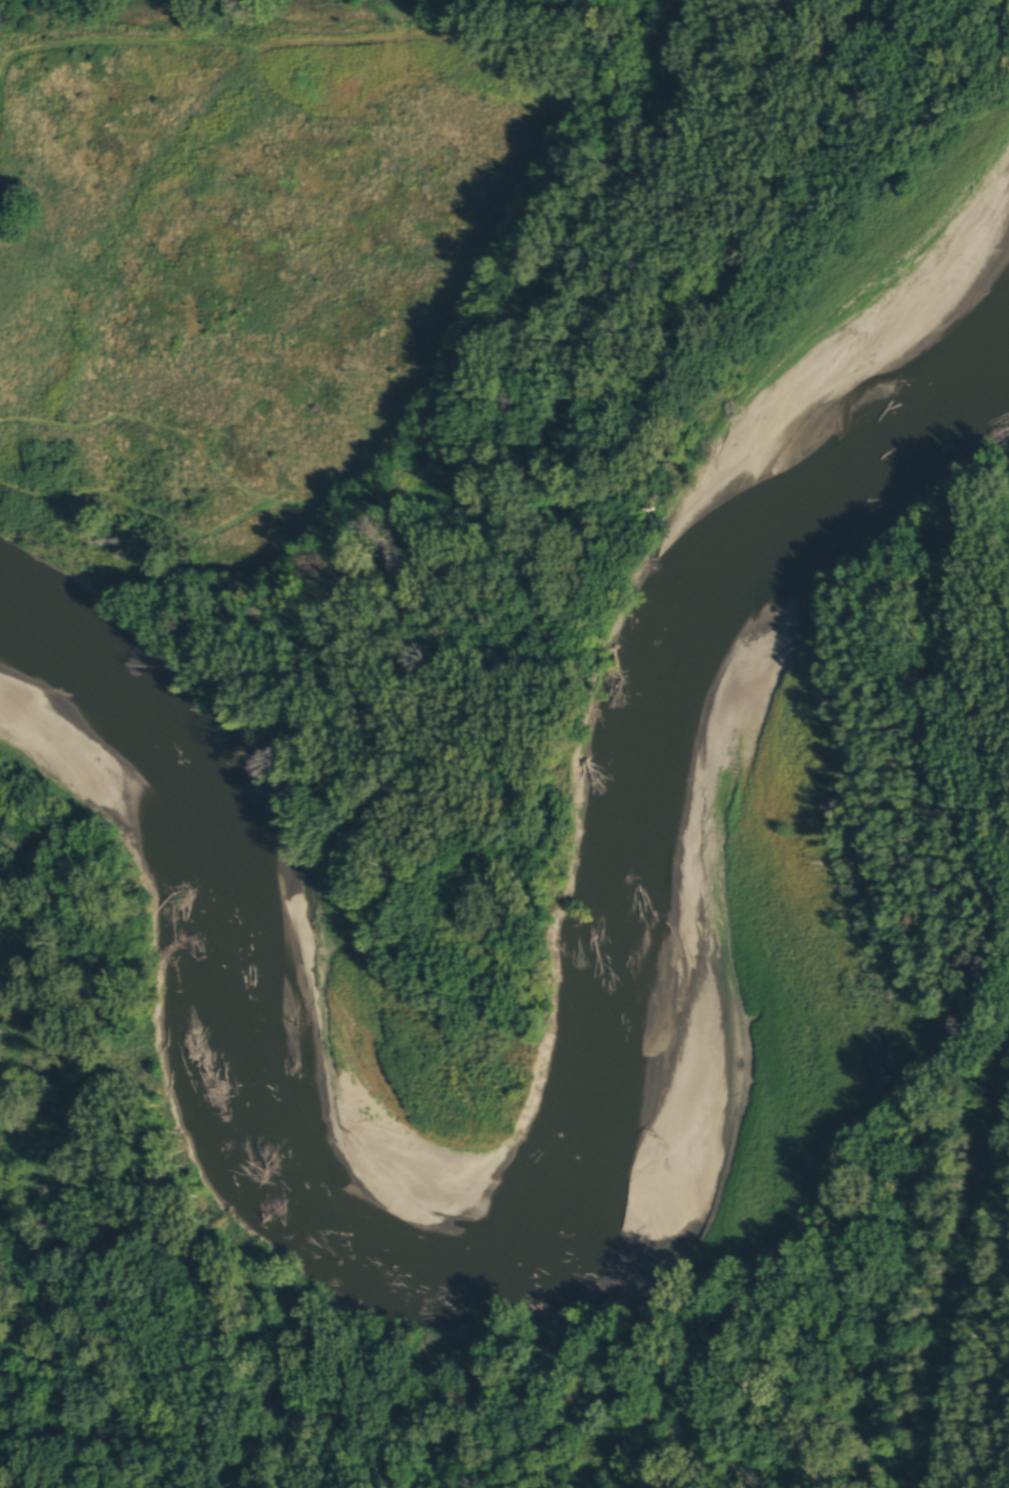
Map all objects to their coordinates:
river: (767, 1164)

